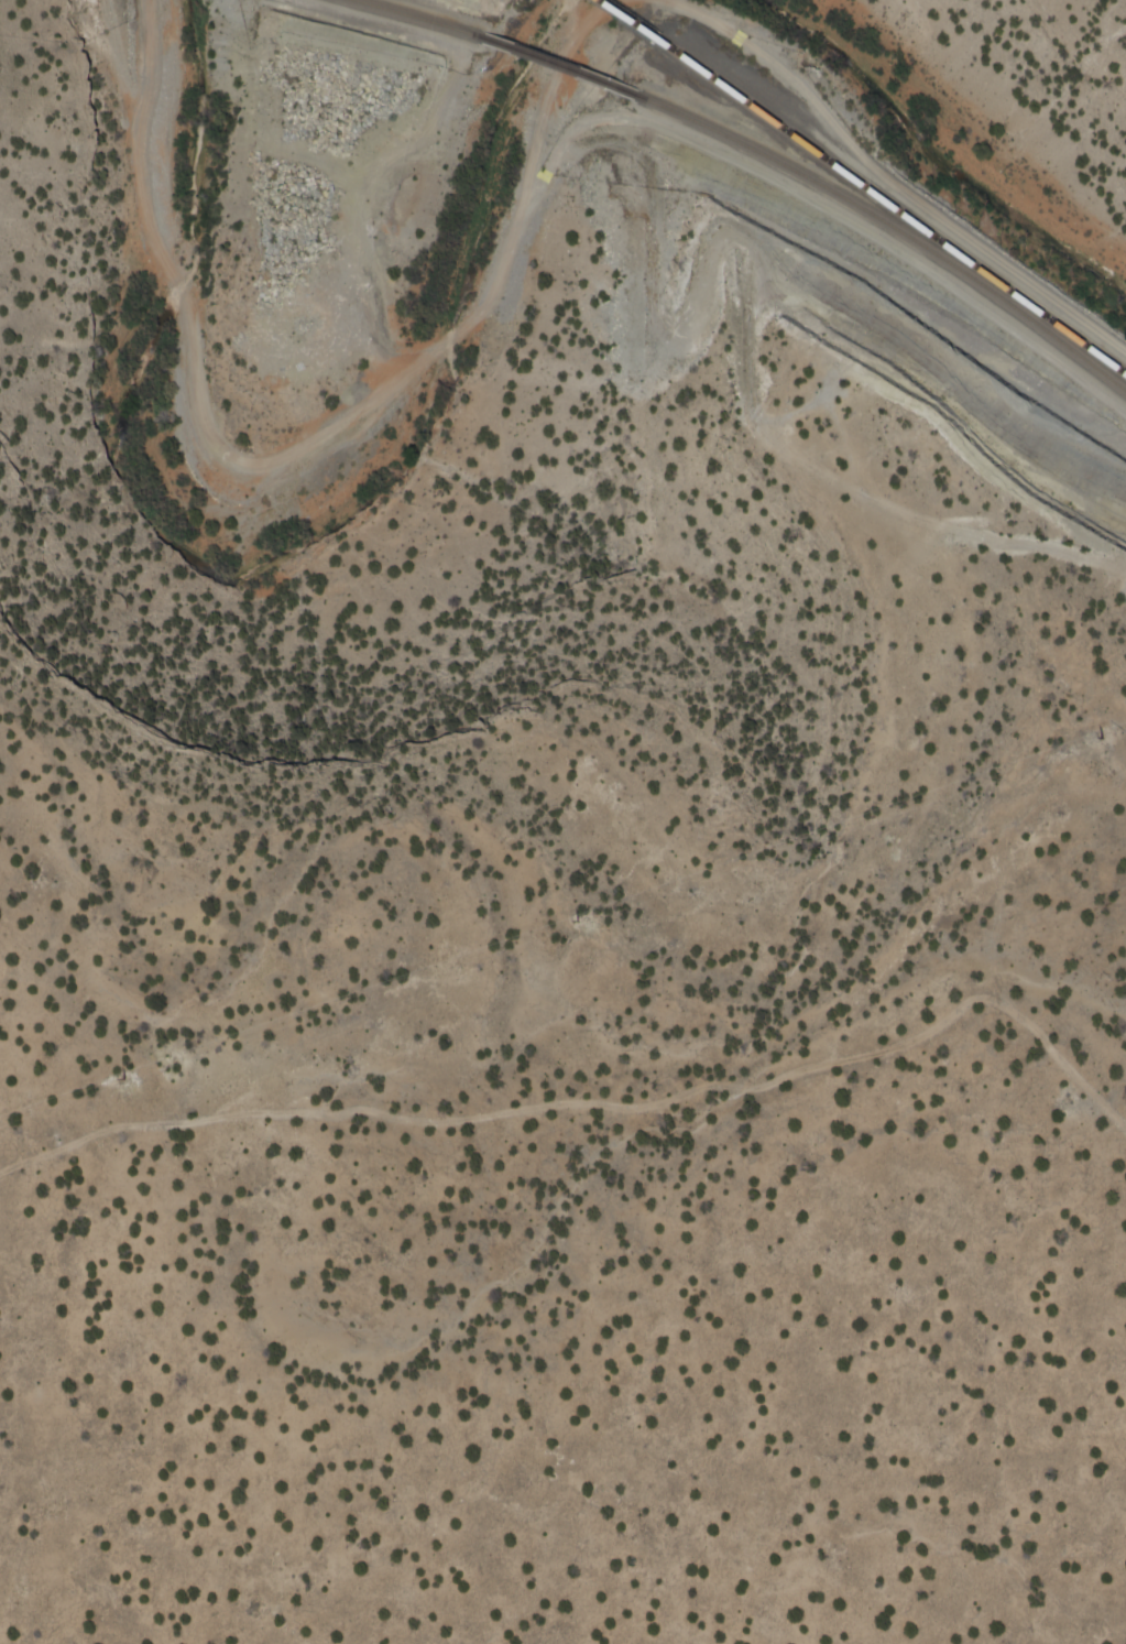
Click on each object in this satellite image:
railway: (404, 18)
railway: (621, 22)
railway: (557, 70)
railway: (890, 211)
railway: (894, 233)
road: (597, 1102)

